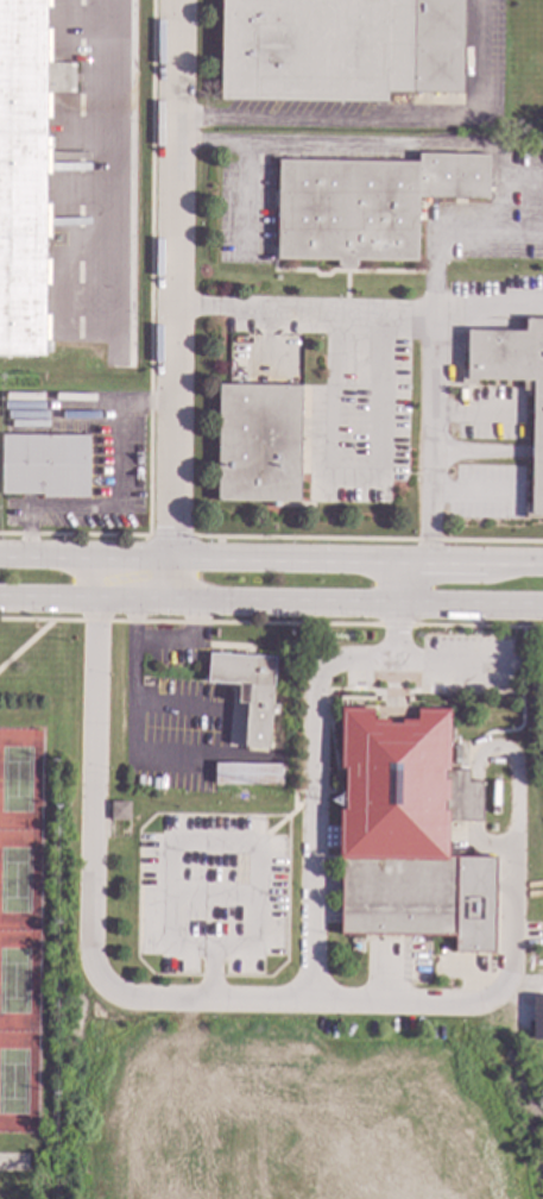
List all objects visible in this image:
building: (339, 49)
road: (383, 126)
road: (448, 145)
building: (24, 171)
road: (522, 175)
road: (240, 200)
building: (366, 205)
road: (523, 231)
road: (173, 299)
road: (431, 310)
road: (488, 310)
road: (475, 412)
road: (120, 428)
building: (258, 444)
building: (536, 447)
building: (44, 465)
road: (356, 477)
road: (473, 494)
road: (74, 508)
road: (29, 533)
road: (48, 559)
road: (320, 564)
road: (96, 579)
road: (49, 597)
road: (290, 598)
road: (512, 602)
road: (391, 613)
road: (128, 623)
road: (448, 665)
building: (247, 691)
road: (127, 728)
building: (247, 774)
park: (20, 778)
building: (119, 811)
building: (398, 824)
road: (187, 843)
park: (20, 877)
road: (211, 899)
park: (316, 936)
road: (504, 973)
park: (19, 977)
road: (211, 1000)
building: (537, 1019)
park: (18, 1080)

